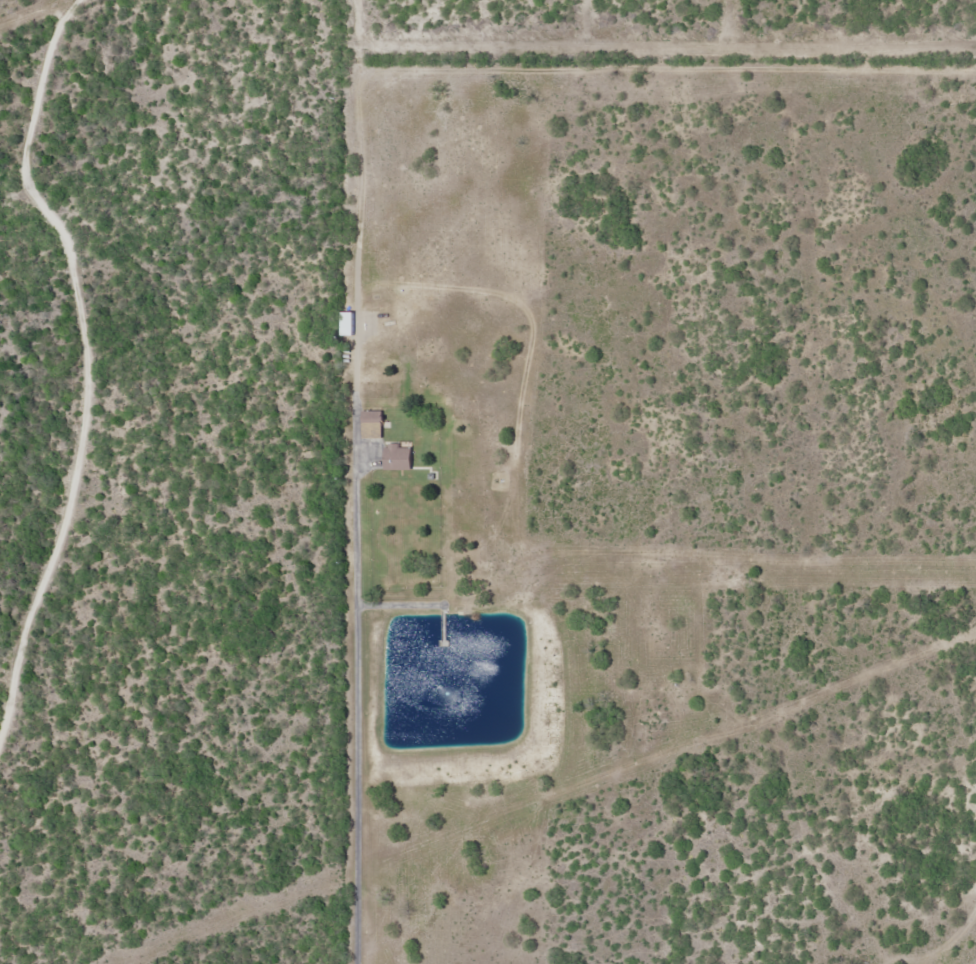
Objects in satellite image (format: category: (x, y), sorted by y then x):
road: (84, 370)
building: (371, 424)
building: (397, 456)

